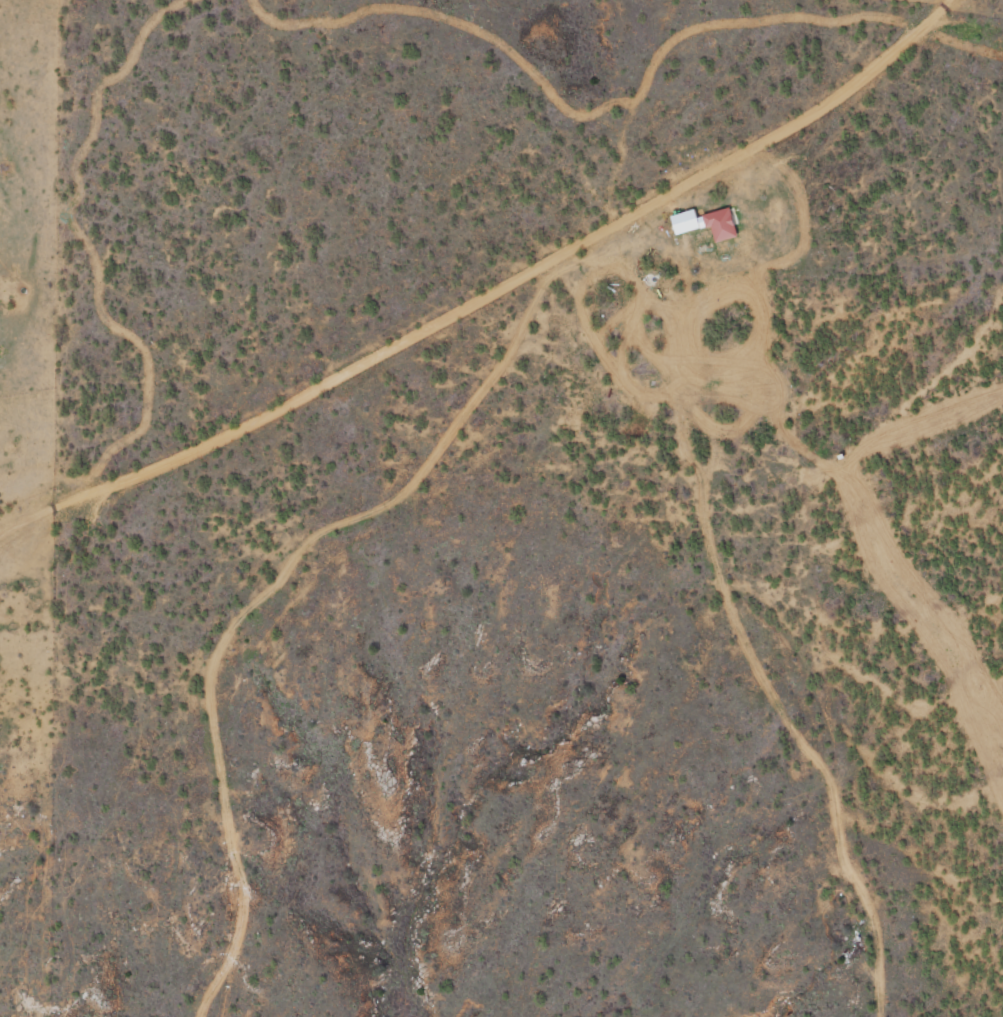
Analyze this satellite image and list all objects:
road: (775, 137)
building: (717, 224)
road: (294, 397)
road: (279, 590)
road: (753, 617)

